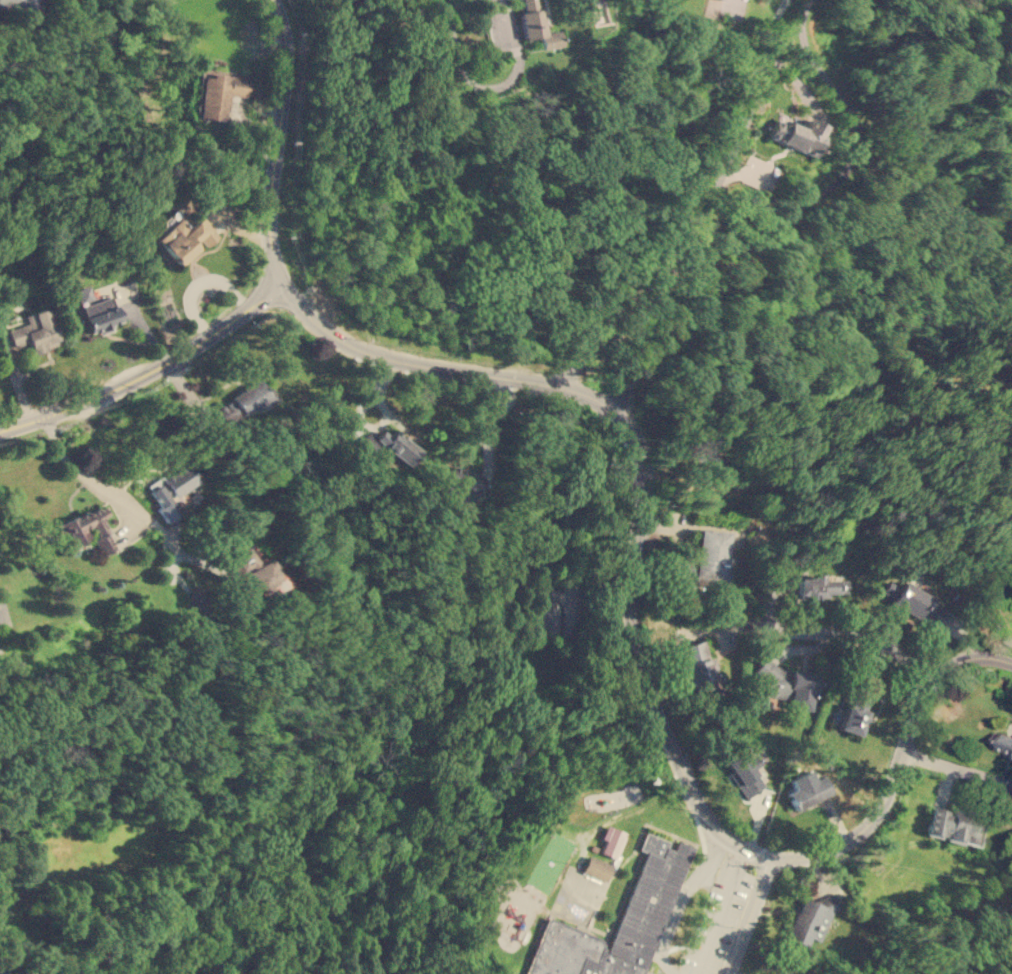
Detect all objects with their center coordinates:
building: (20, 4)
road: (733, 5)
building: (600, 13)
building: (536, 24)
road: (489, 87)
building: (218, 92)
road: (276, 131)
building: (795, 131)
road: (784, 219)
building: (187, 239)
building: (99, 314)
building: (33, 330)
road: (150, 364)
building: (240, 402)
building: (368, 442)
building: (396, 445)
building: (461, 480)
building: (170, 489)
road: (110, 492)
building: (90, 527)
building: (703, 558)
building: (249, 567)
building: (820, 584)
building: (914, 602)
building: (545, 611)
road: (788, 632)
road: (632, 642)
building: (698, 666)
building: (789, 684)
building: (854, 711)
road: (957, 765)
building: (744, 770)
building: (806, 789)
building: (949, 825)
building: (611, 840)
building: (596, 867)
building: (656, 883)
road: (749, 911)
road: (721, 912)
building: (809, 919)
building: (800, 973)

